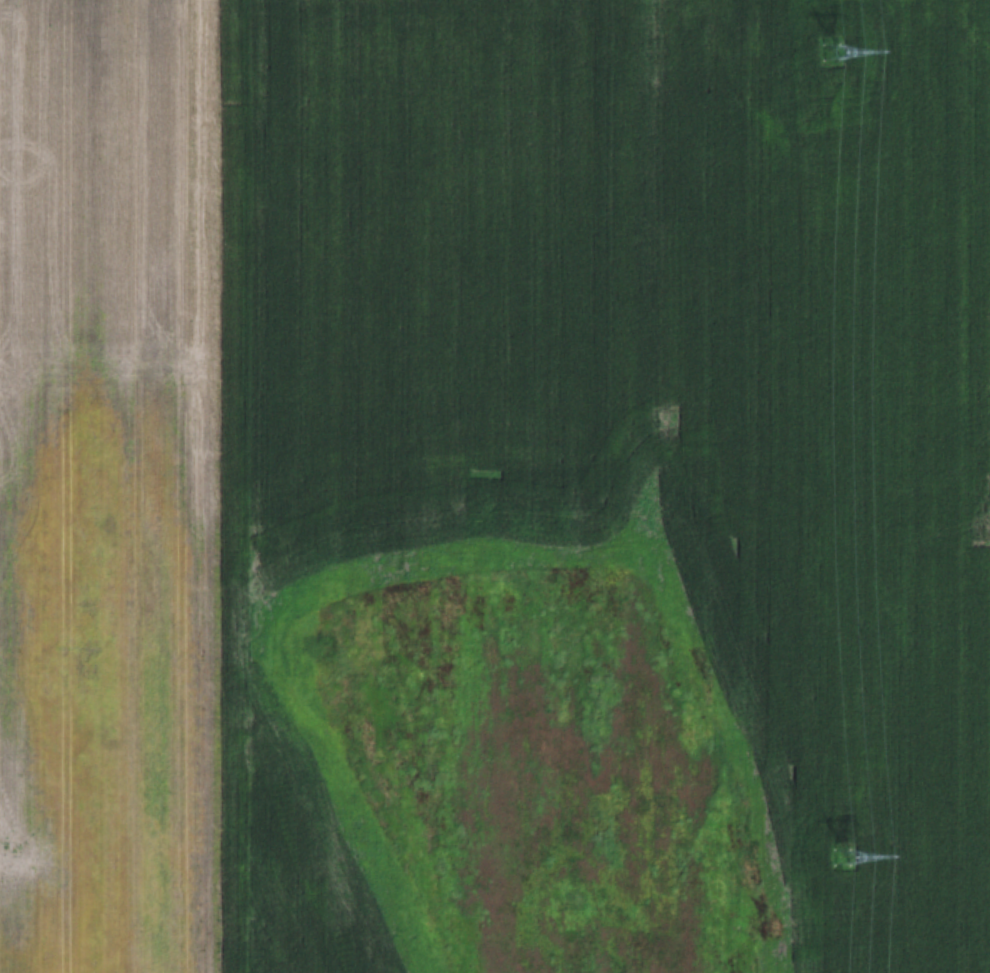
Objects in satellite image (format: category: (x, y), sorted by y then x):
power tower: (828, 51)
power tower: (841, 856)

